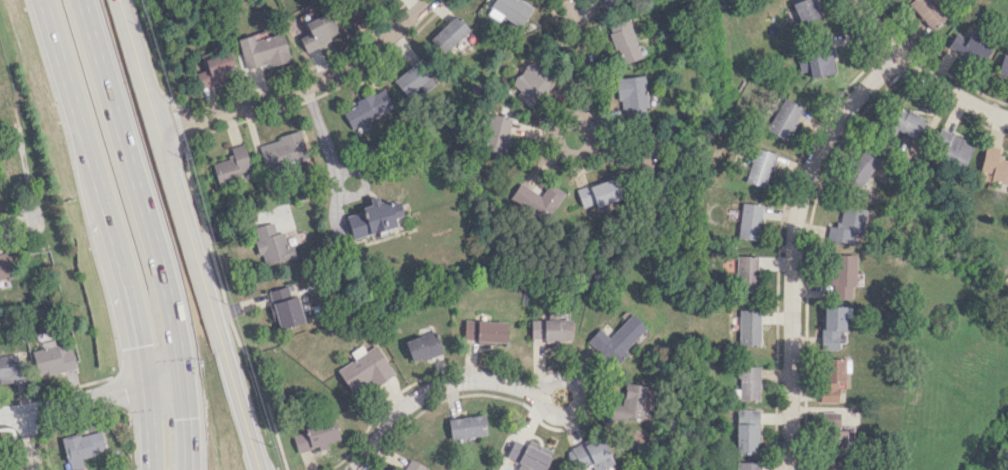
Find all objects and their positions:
building: (606, 3)
building: (353, 8)
building: (806, 8)
building: (512, 10)
building: (927, 11)
building: (317, 30)
building: (448, 33)
building: (623, 40)
building: (263, 49)
building: (816, 58)
road: (583, 59)
building: (1002, 66)
building: (214, 70)
road: (922, 73)
building: (412, 76)
building: (531, 82)
road: (303, 86)
building: (632, 96)
road: (170, 100)
building: (366, 107)
building: (783, 118)
building: (906, 122)
road: (179, 124)
building: (496, 133)
building: (282, 149)
building: (637, 155)
road: (577, 156)
building: (230, 165)
building: (992, 166)
building: (759, 167)
building: (860, 168)
road: (333, 177)
building: (599, 192)
building: (536, 199)
building: (372, 217)
building: (750, 220)
road: (14, 221)
building: (846, 225)
road: (116, 231)
road: (145, 231)
road: (188, 234)
building: (270, 243)
road: (794, 245)
road: (212, 258)
building: (5, 265)
building: (747, 274)
building: (842, 276)
building: (284, 307)
building: (833, 326)
building: (750, 327)
building: (550, 328)
building: (484, 330)
building: (616, 339)
traffic signals: (144, 345)
building: (422, 346)
building: (52, 358)
building: (9, 368)
building: (363, 368)
road: (586, 374)
building: (833, 378)
building: (749, 383)
traffic signals: (123, 387)
road: (430, 388)
road: (579, 395)
road: (89, 396)
building: (630, 403)
road: (17, 412)
traffic signals: (181, 417)
building: (466, 426)
building: (747, 430)
building: (835, 432)
building: (315, 434)
road: (27, 440)
building: (83, 445)
building: (528, 454)
building: (592, 454)
building: (411, 465)
building: (749, 465)
building: (830, 466)

